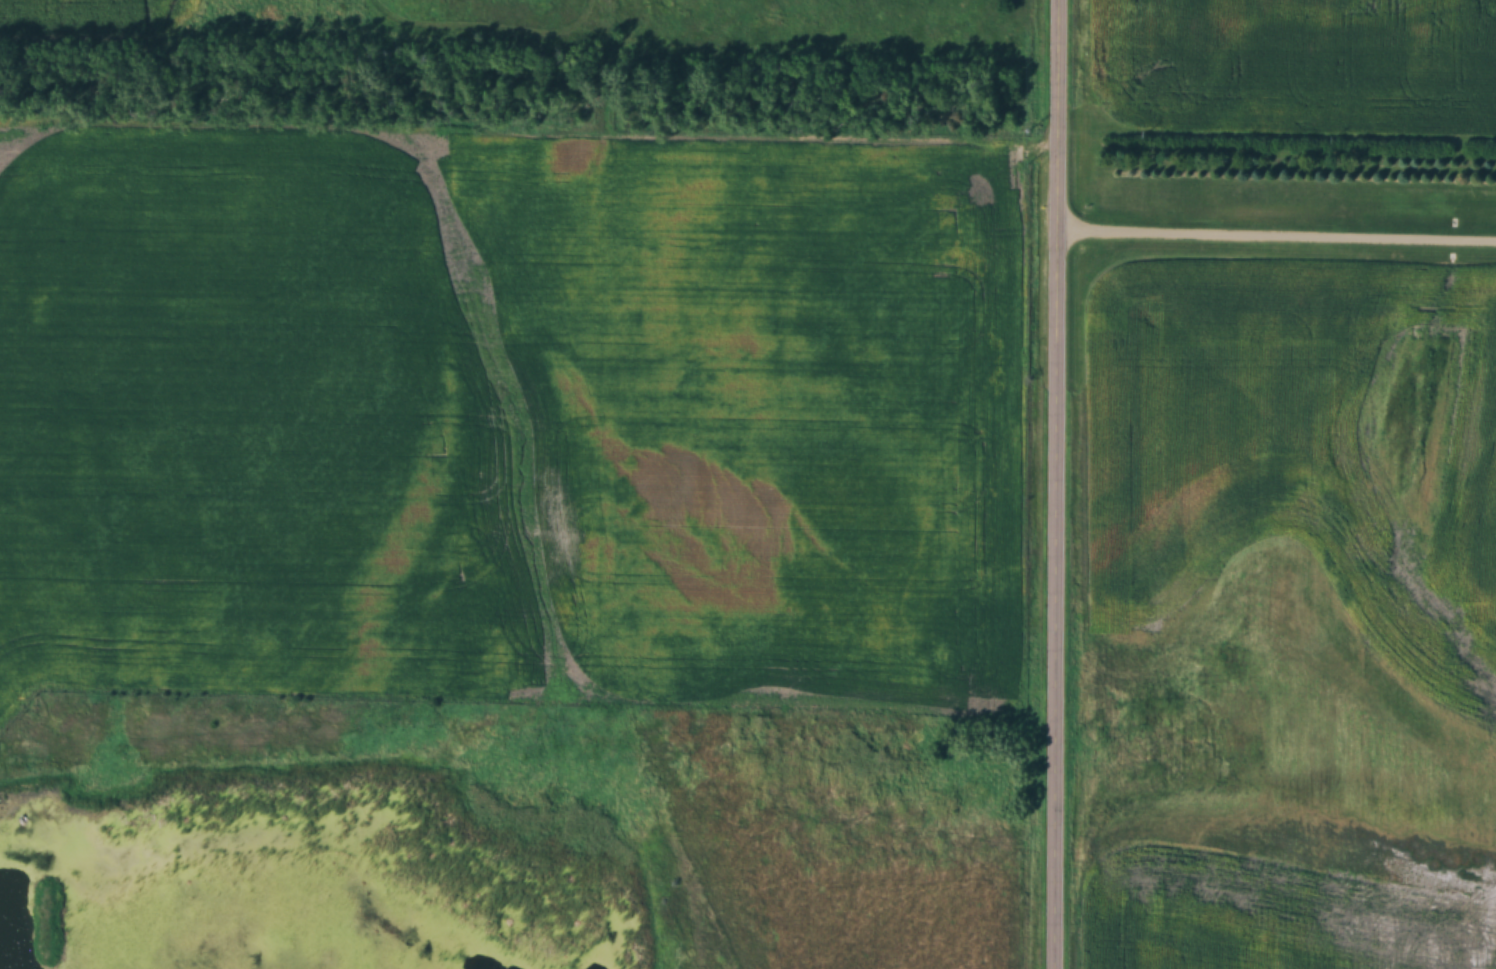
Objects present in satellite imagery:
road: (1278, 236)
road: (1059, 484)

